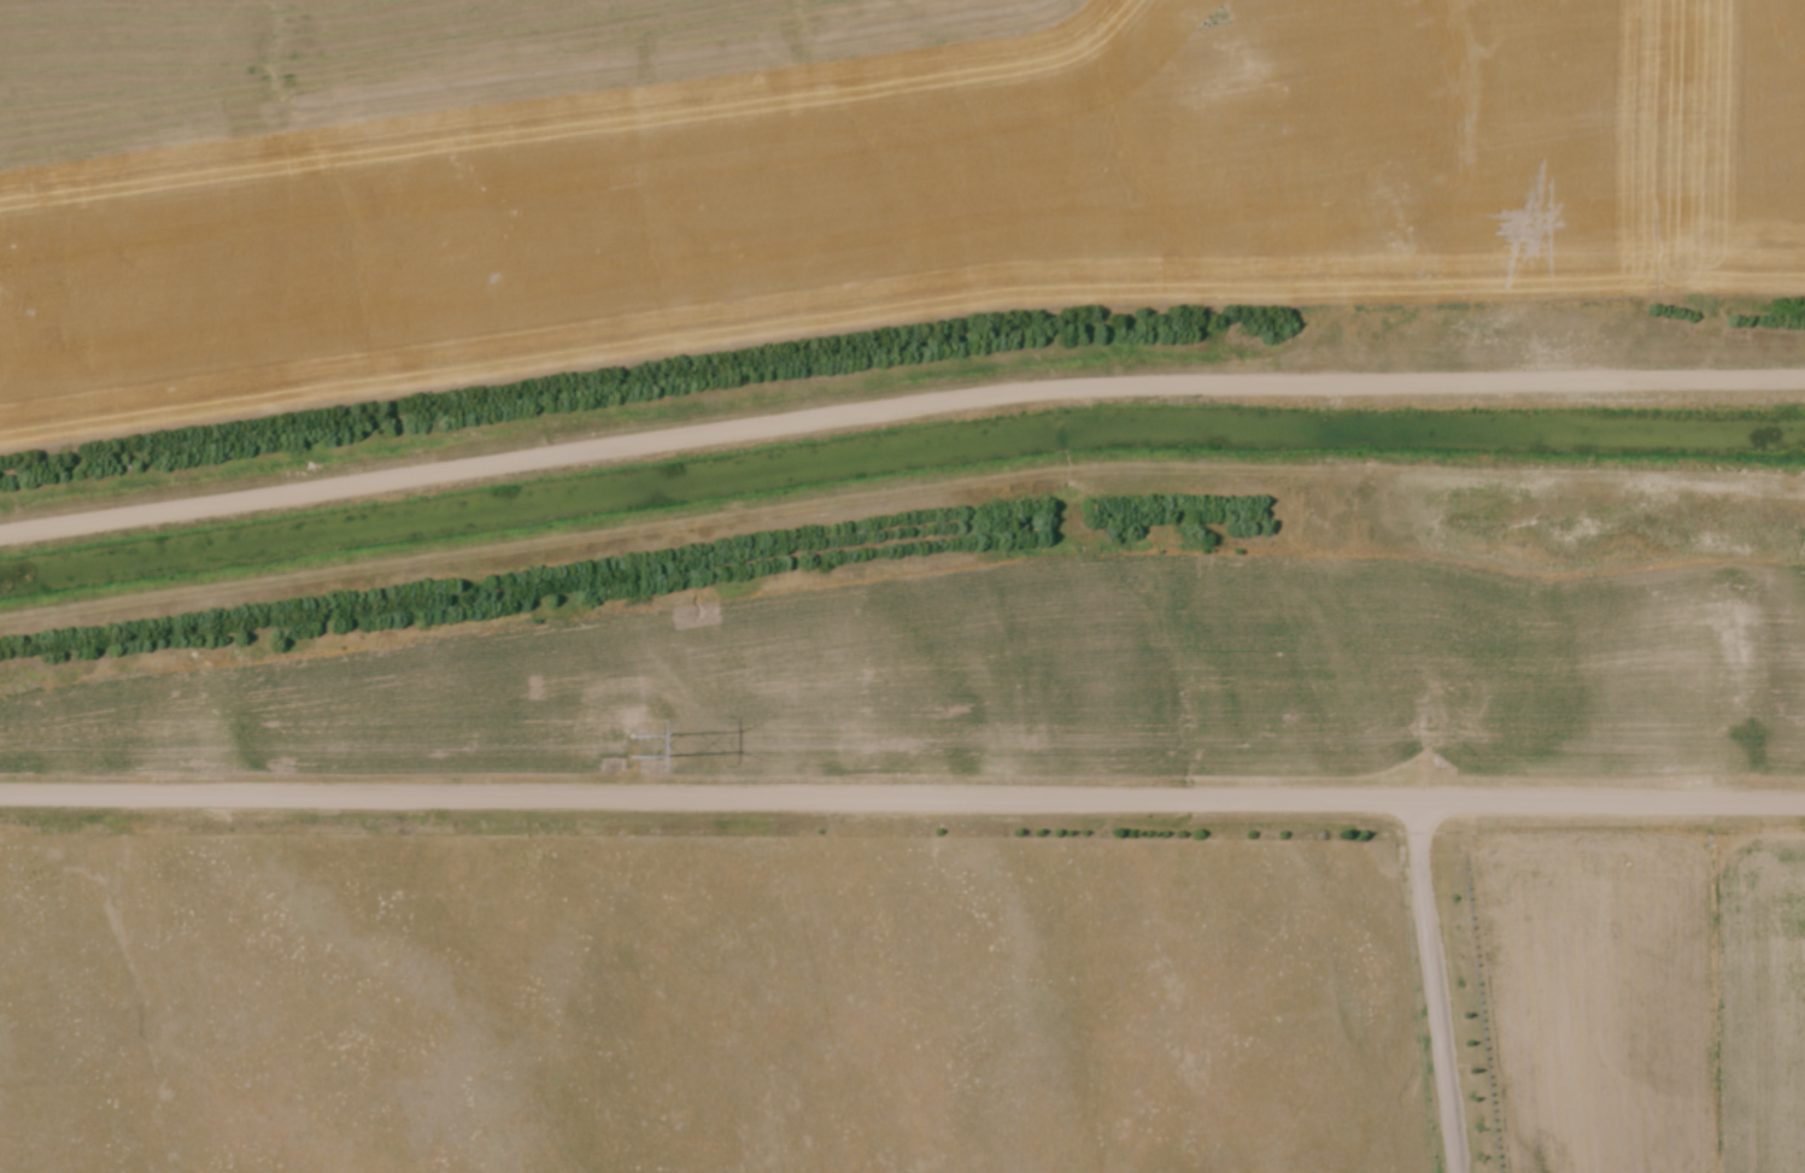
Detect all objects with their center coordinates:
road: (898, 401)
building: (1330, 432)
power tower: (628, 747)
road: (902, 800)
road: (1435, 987)

